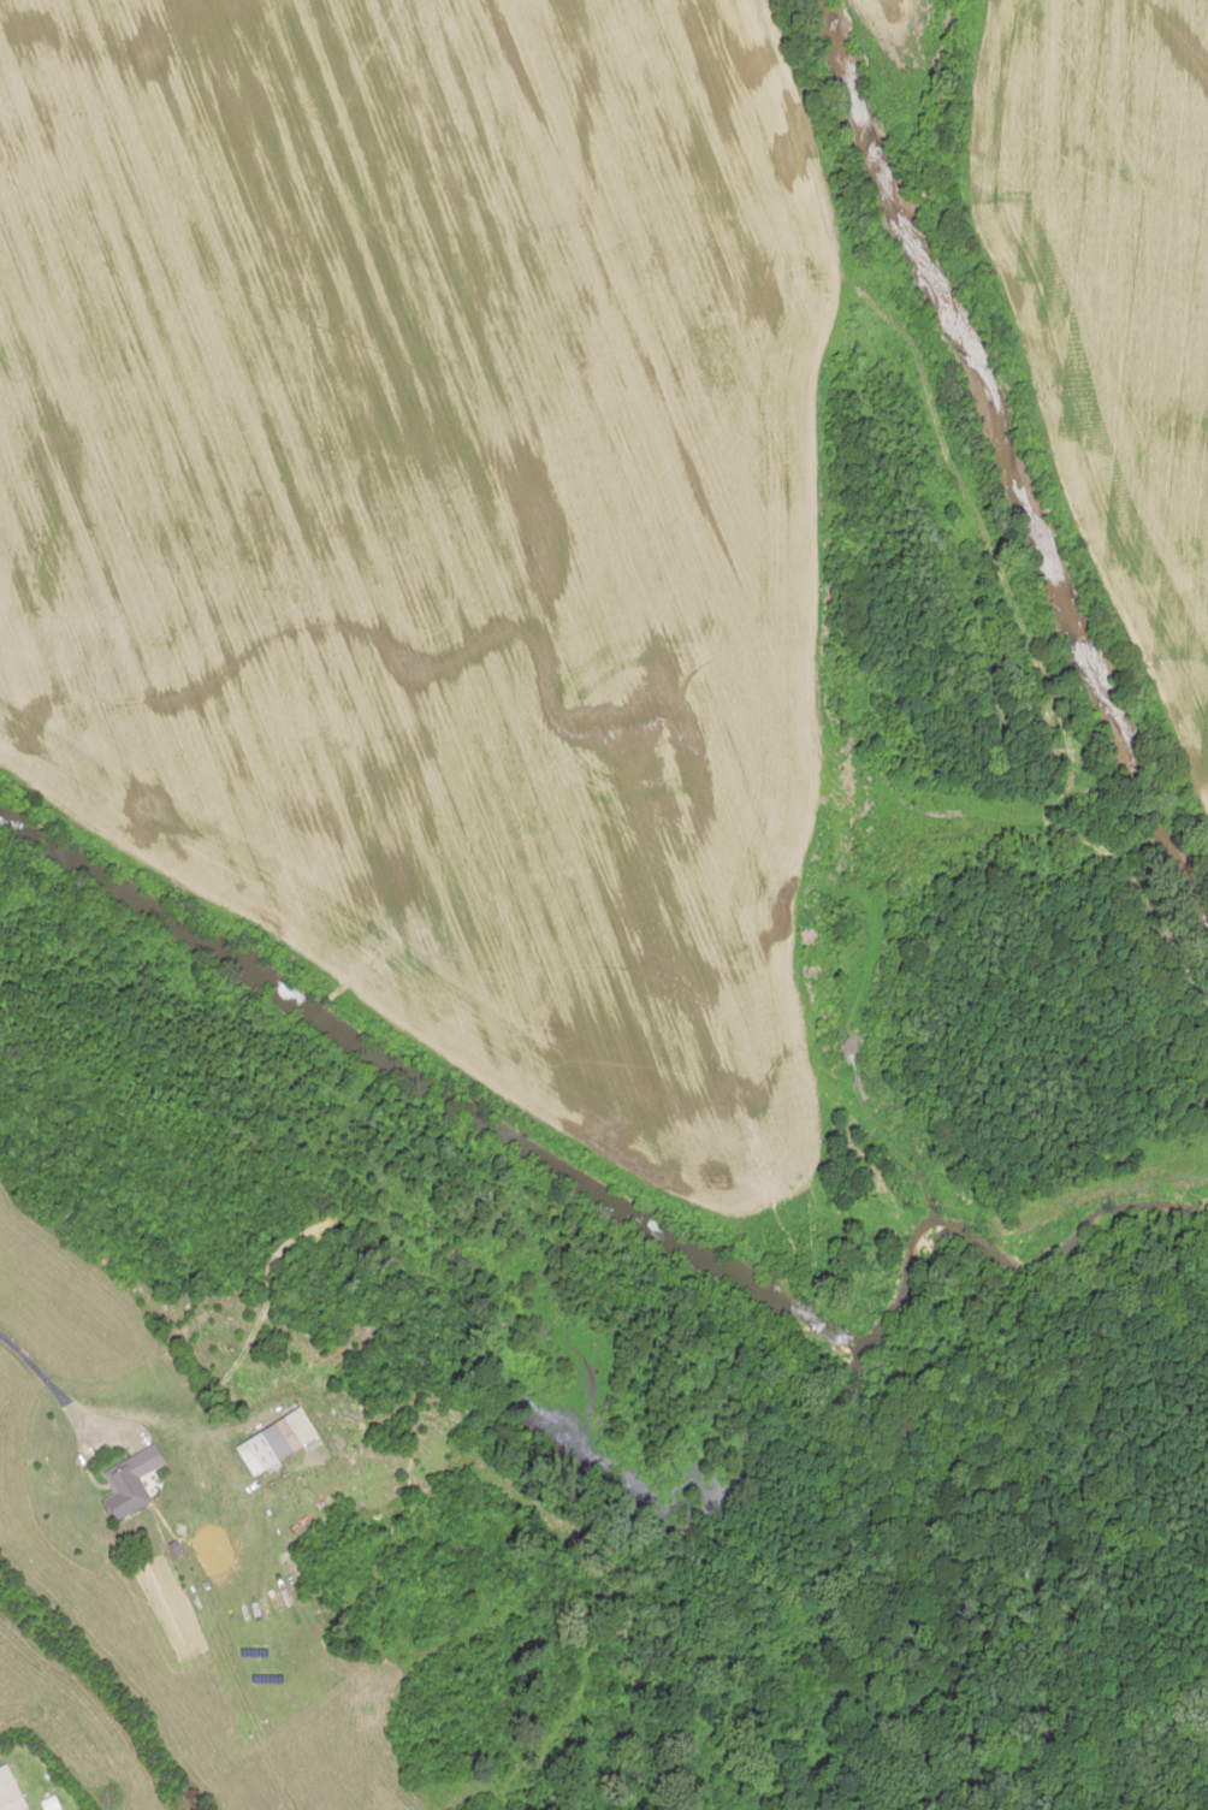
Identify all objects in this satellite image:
river: (1001, 462)
building: (260, 1448)
building: (126, 1481)
building: (7, 1792)

